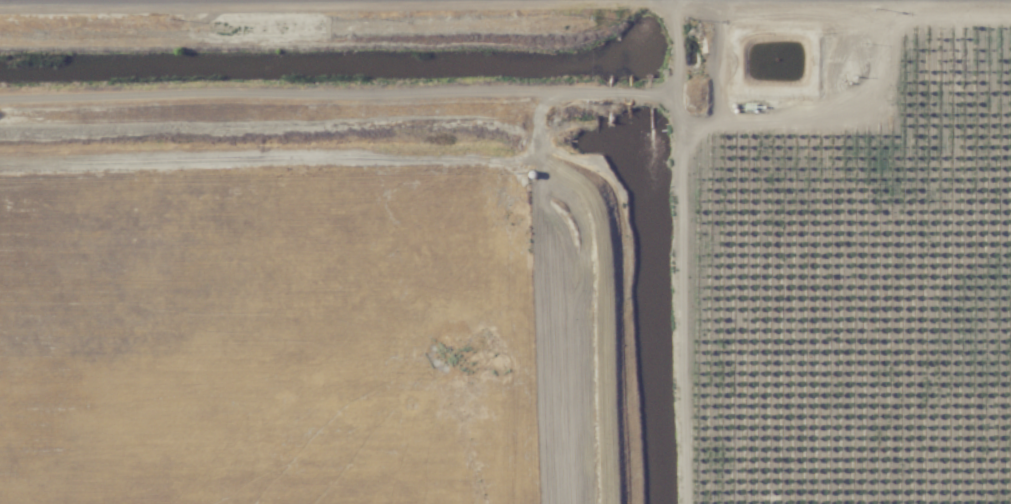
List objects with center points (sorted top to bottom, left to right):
crop: (838, 348)

